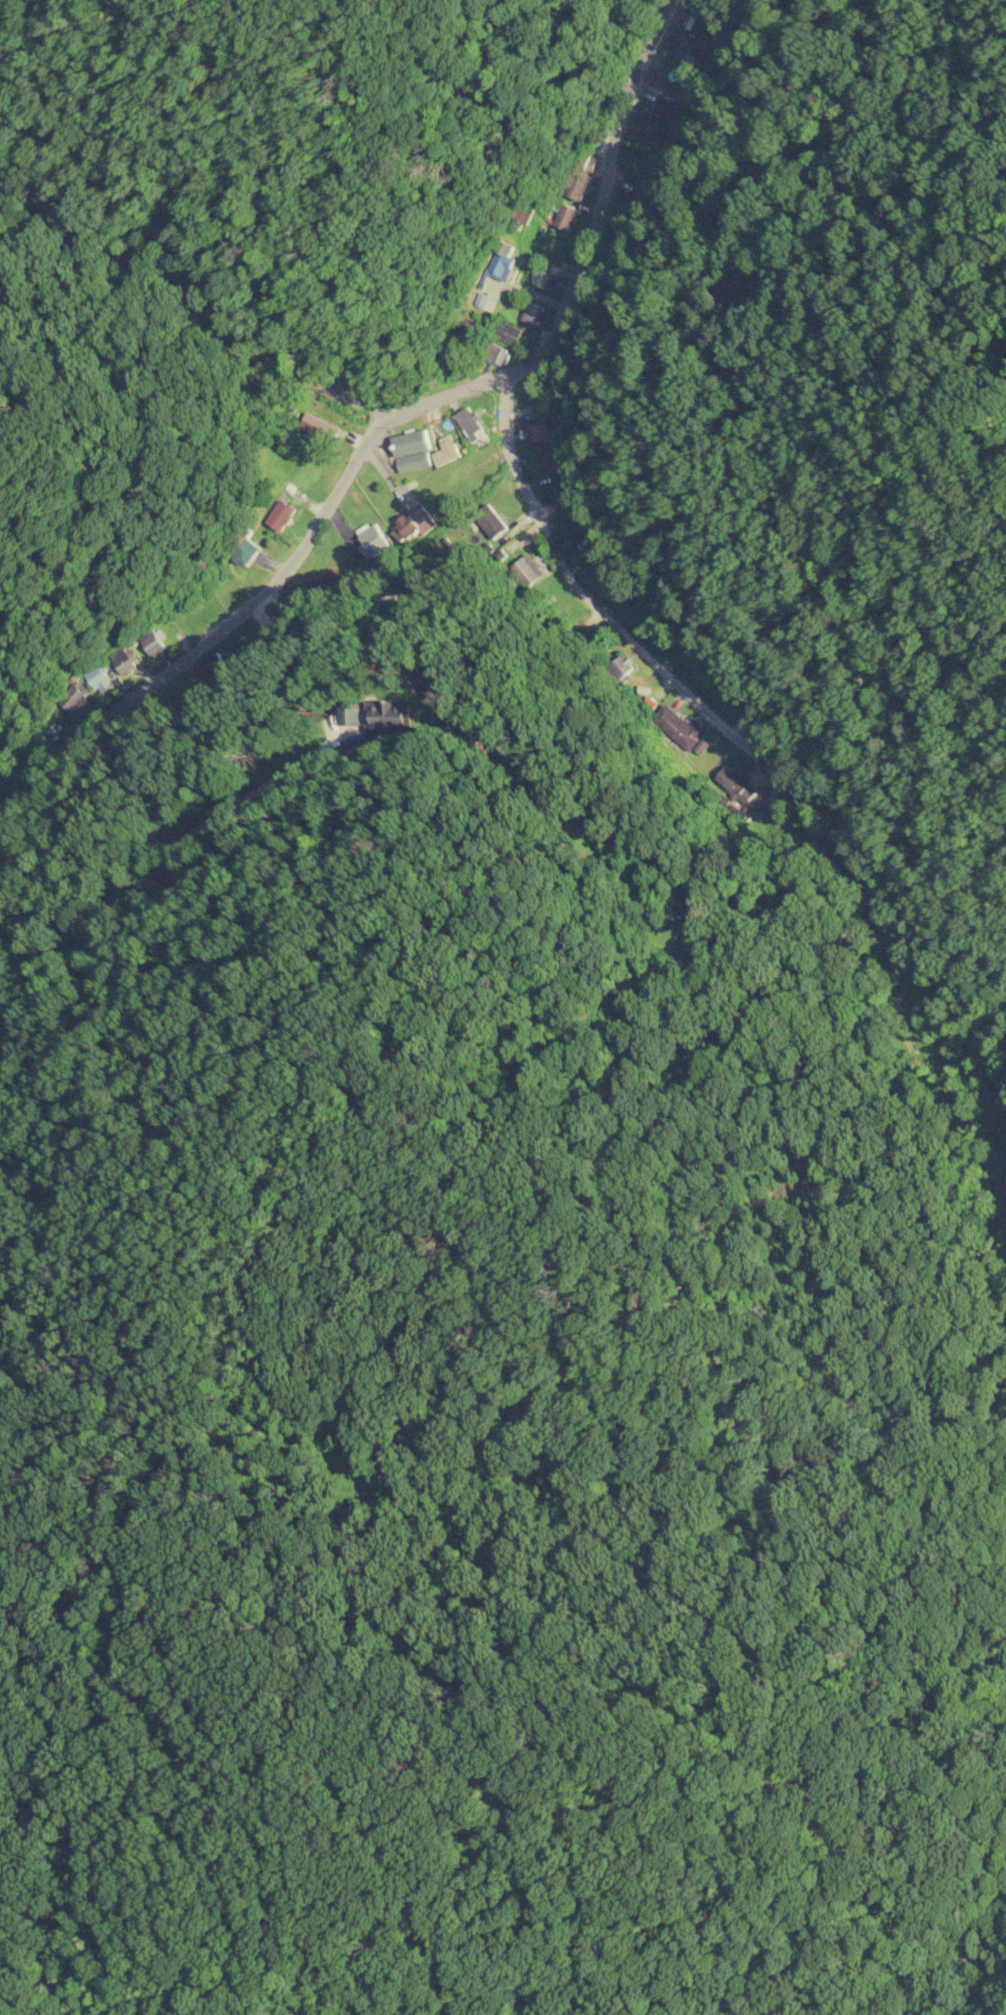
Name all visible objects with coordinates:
building: (706, 23)
building: (690, 48)
building: (669, 107)
building: (580, 176)
road: (600, 197)
building: (523, 215)
building: (565, 217)
building: (497, 267)
building: (539, 278)
building: (533, 313)
building: (508, 333)
building: (497, 354)
building: (469, 424)
building: (319, 427)
building: (540, 432)
building: (410, 443)
building: (445, 451)
building: (413, 461)
building: (551, 461)
building: (280, 515)
building: (490, 521)
building: (413, 524)
building: (372, 540)
building: (246, 551)
building: (525, 570)
road: (264, 586)
road: (604, 614)
building: (154, 643)
building: (123, 658)
building: (220, 661)
building: (621, 667)
building: (96, 676)
building: (74, 697)
building: (386, 714)
building: (349, 716)
building: (677, 727)
building: (735, 785)

